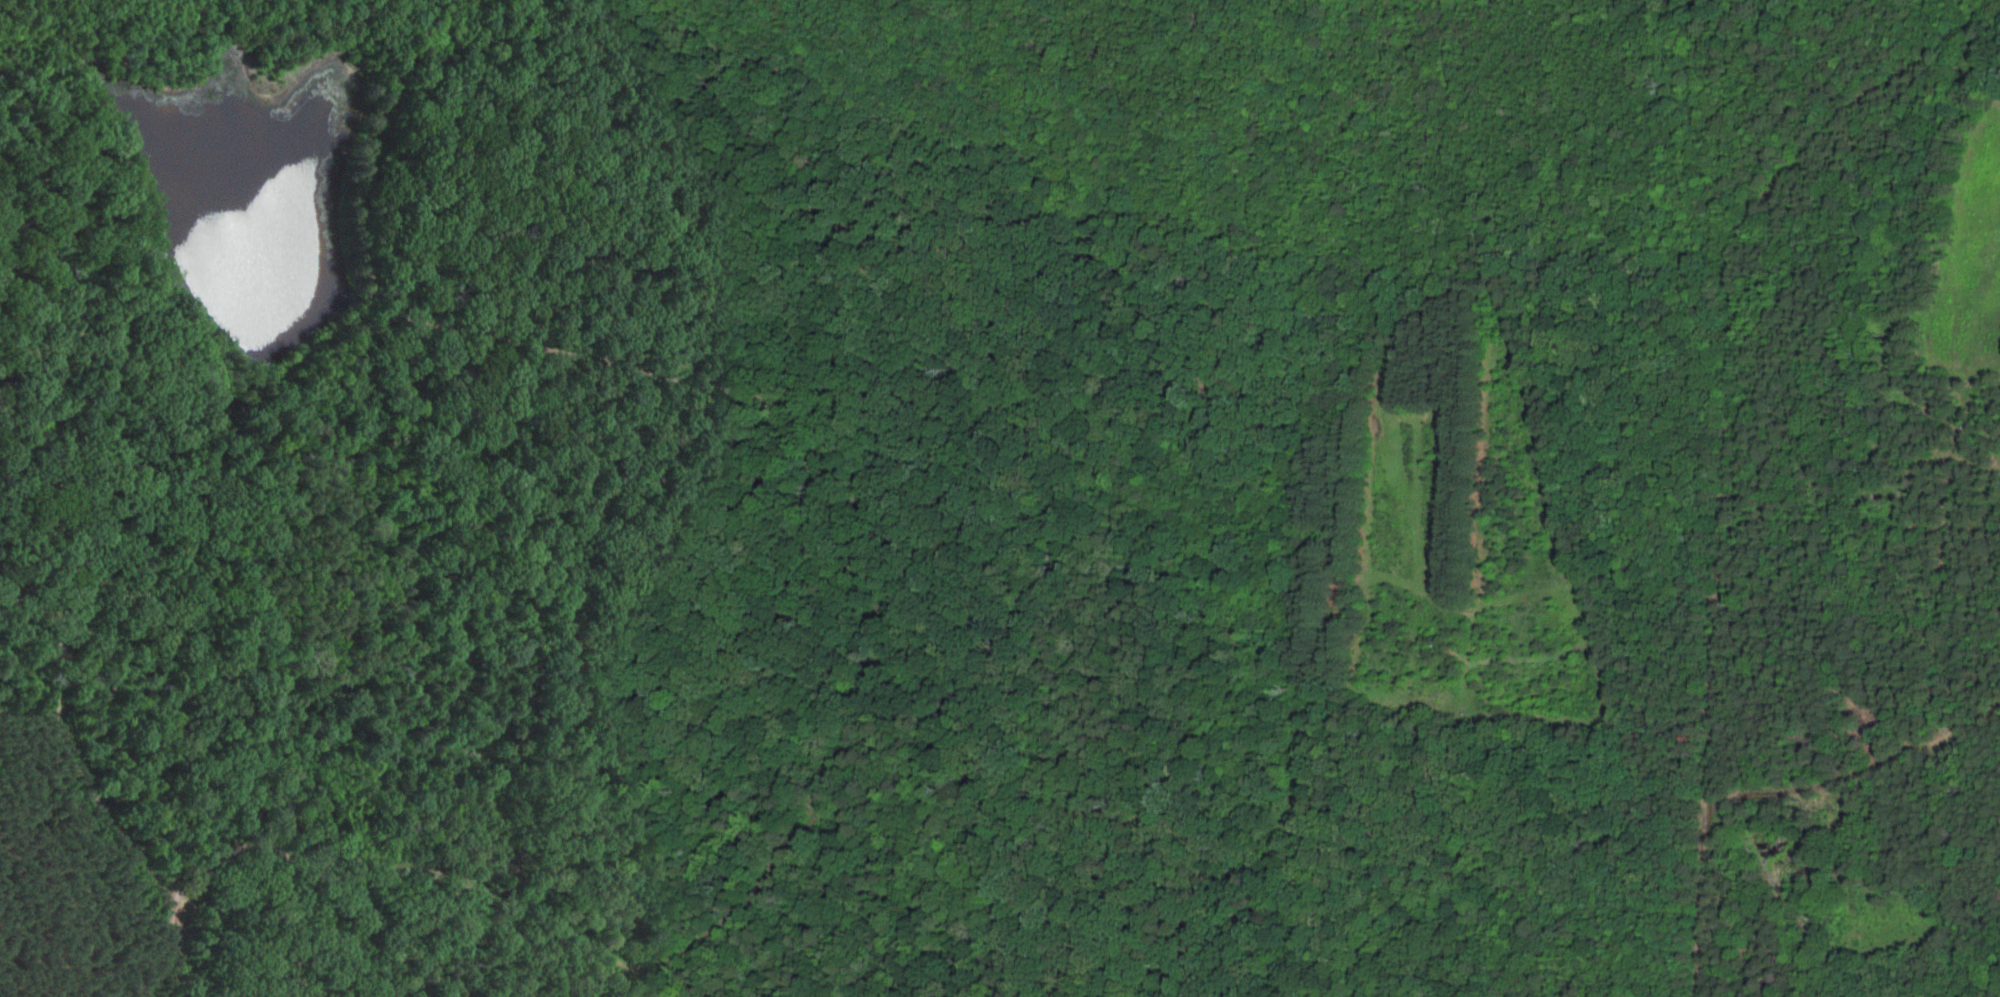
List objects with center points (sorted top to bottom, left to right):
road: (1699, 449)

